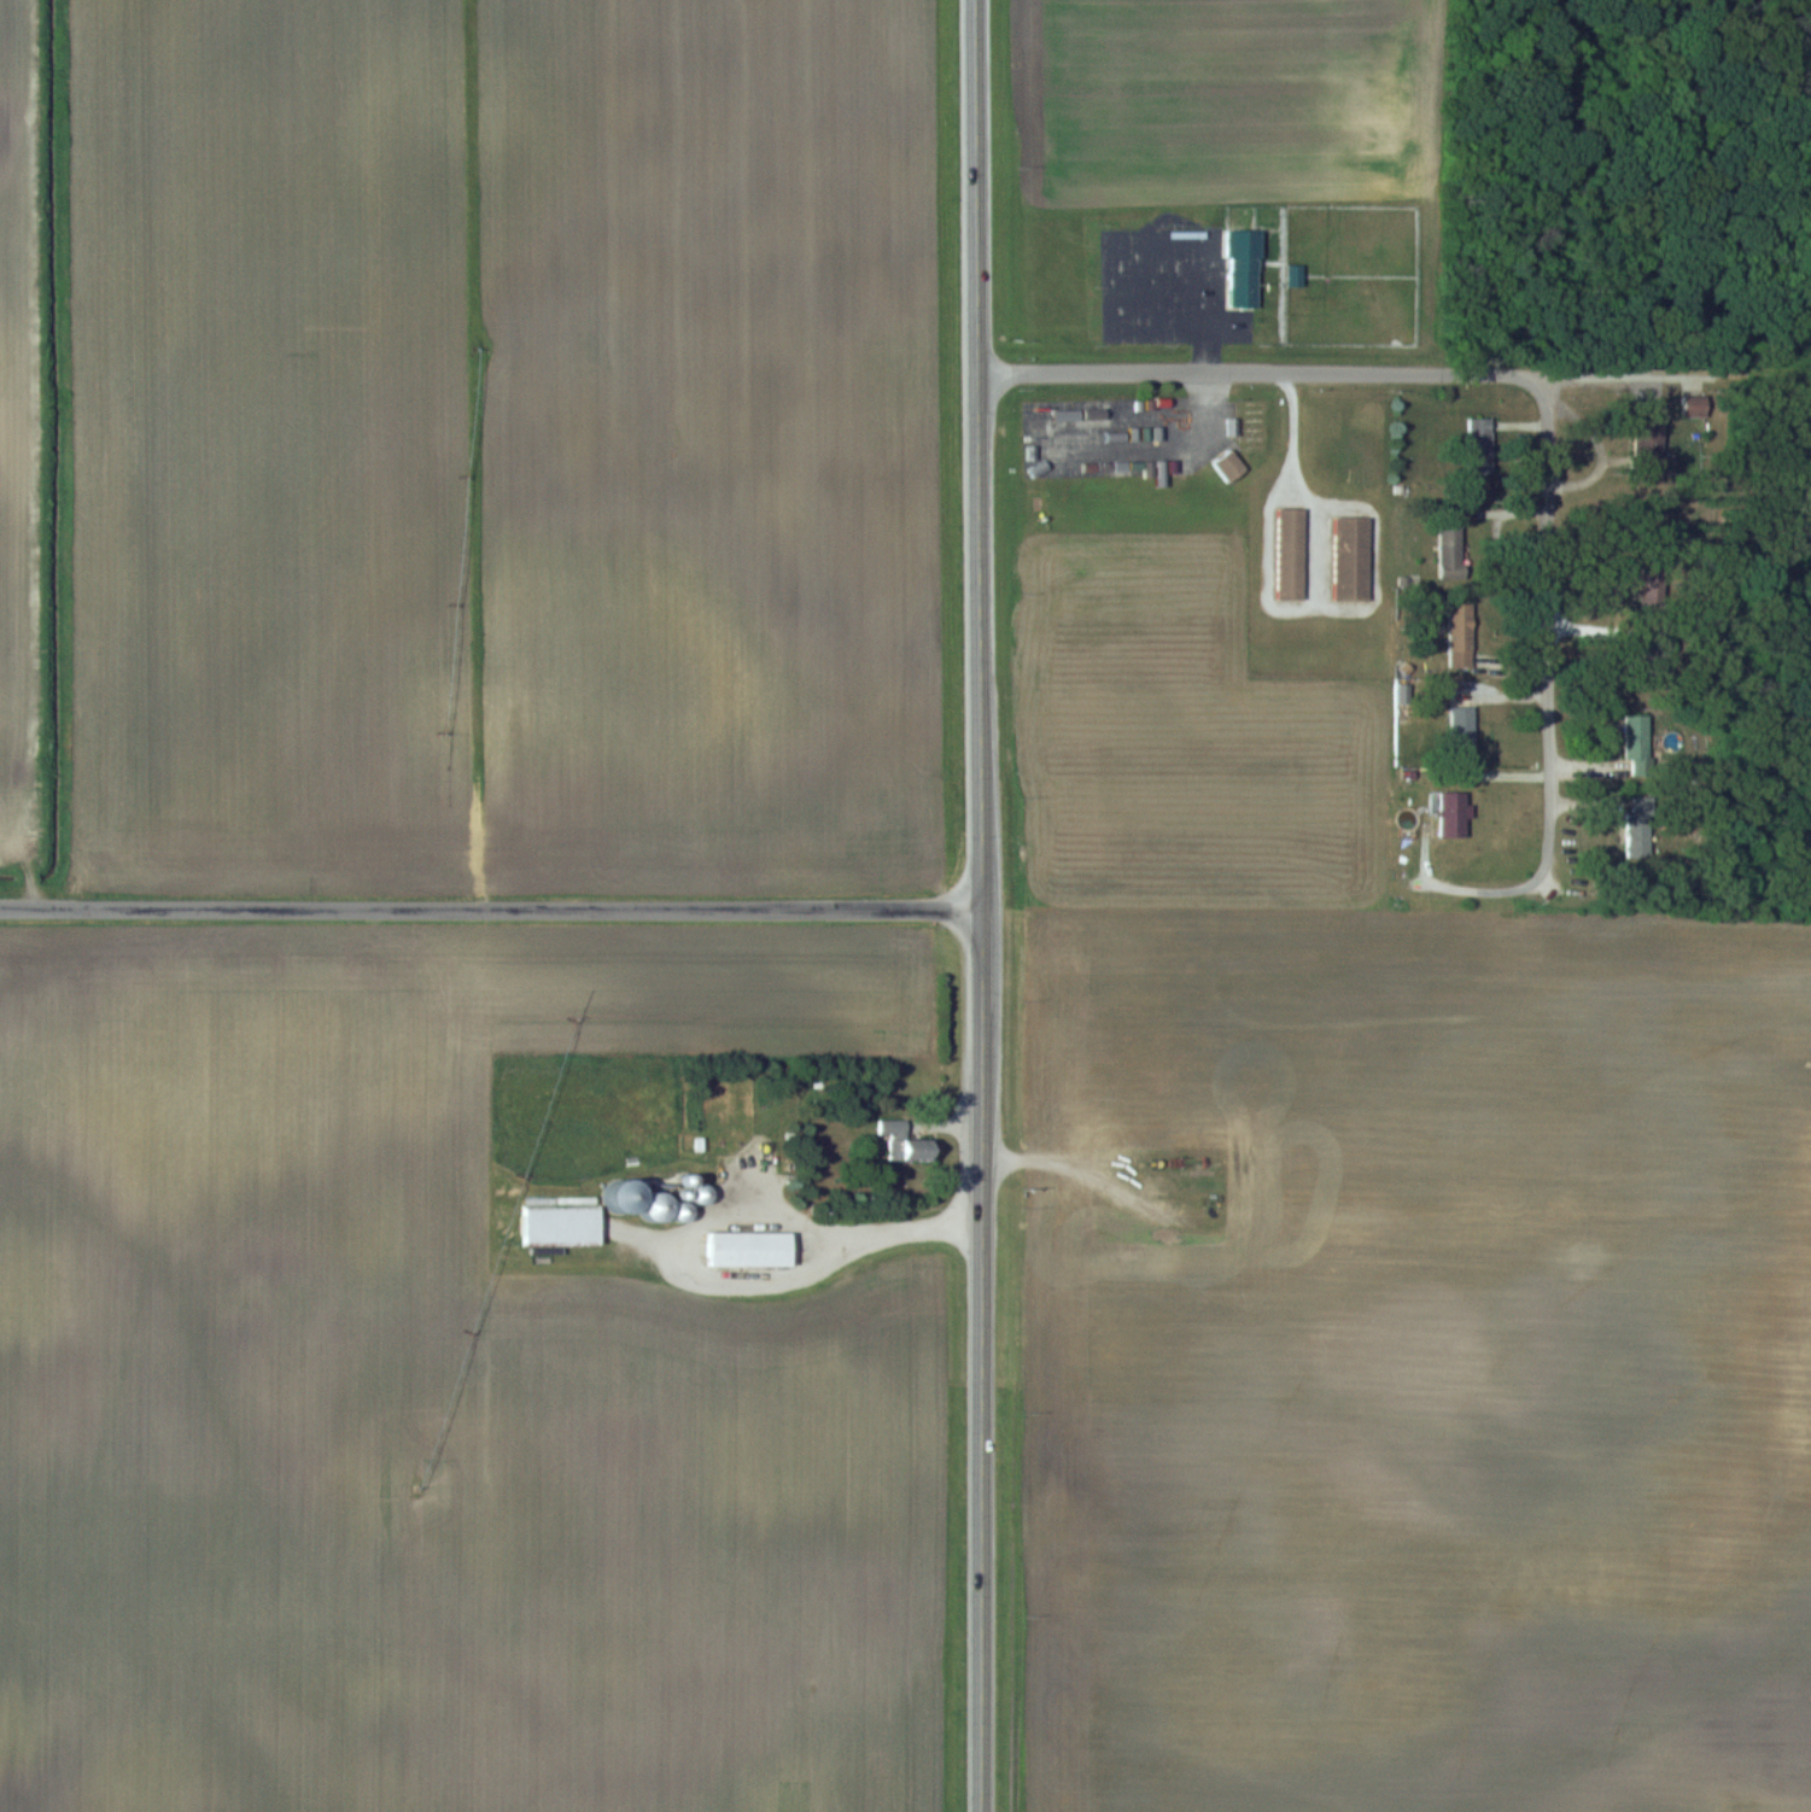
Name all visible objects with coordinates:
building: (1235, 210)
building: (1243, 268)
road: (1260, 372)
road: (1606, 372)
building: (1478, 440)
building: (1646, 440)
building: (1229, 464)
building: (1449, 548)
building: (1290, 553)
building: (1351, 557)
building: (1460, 635)
road: (1548, 682)
building: (1462, 724)
building: (1637, 743)
building: (1453, 813)
building: (1638, 828)
road: (491, 905)
road: (982, 905)
building: (905, 1142)
building: (621, 1196)
building: (655, 1208)
building: (559, 1221)
building: (748, 1249)

